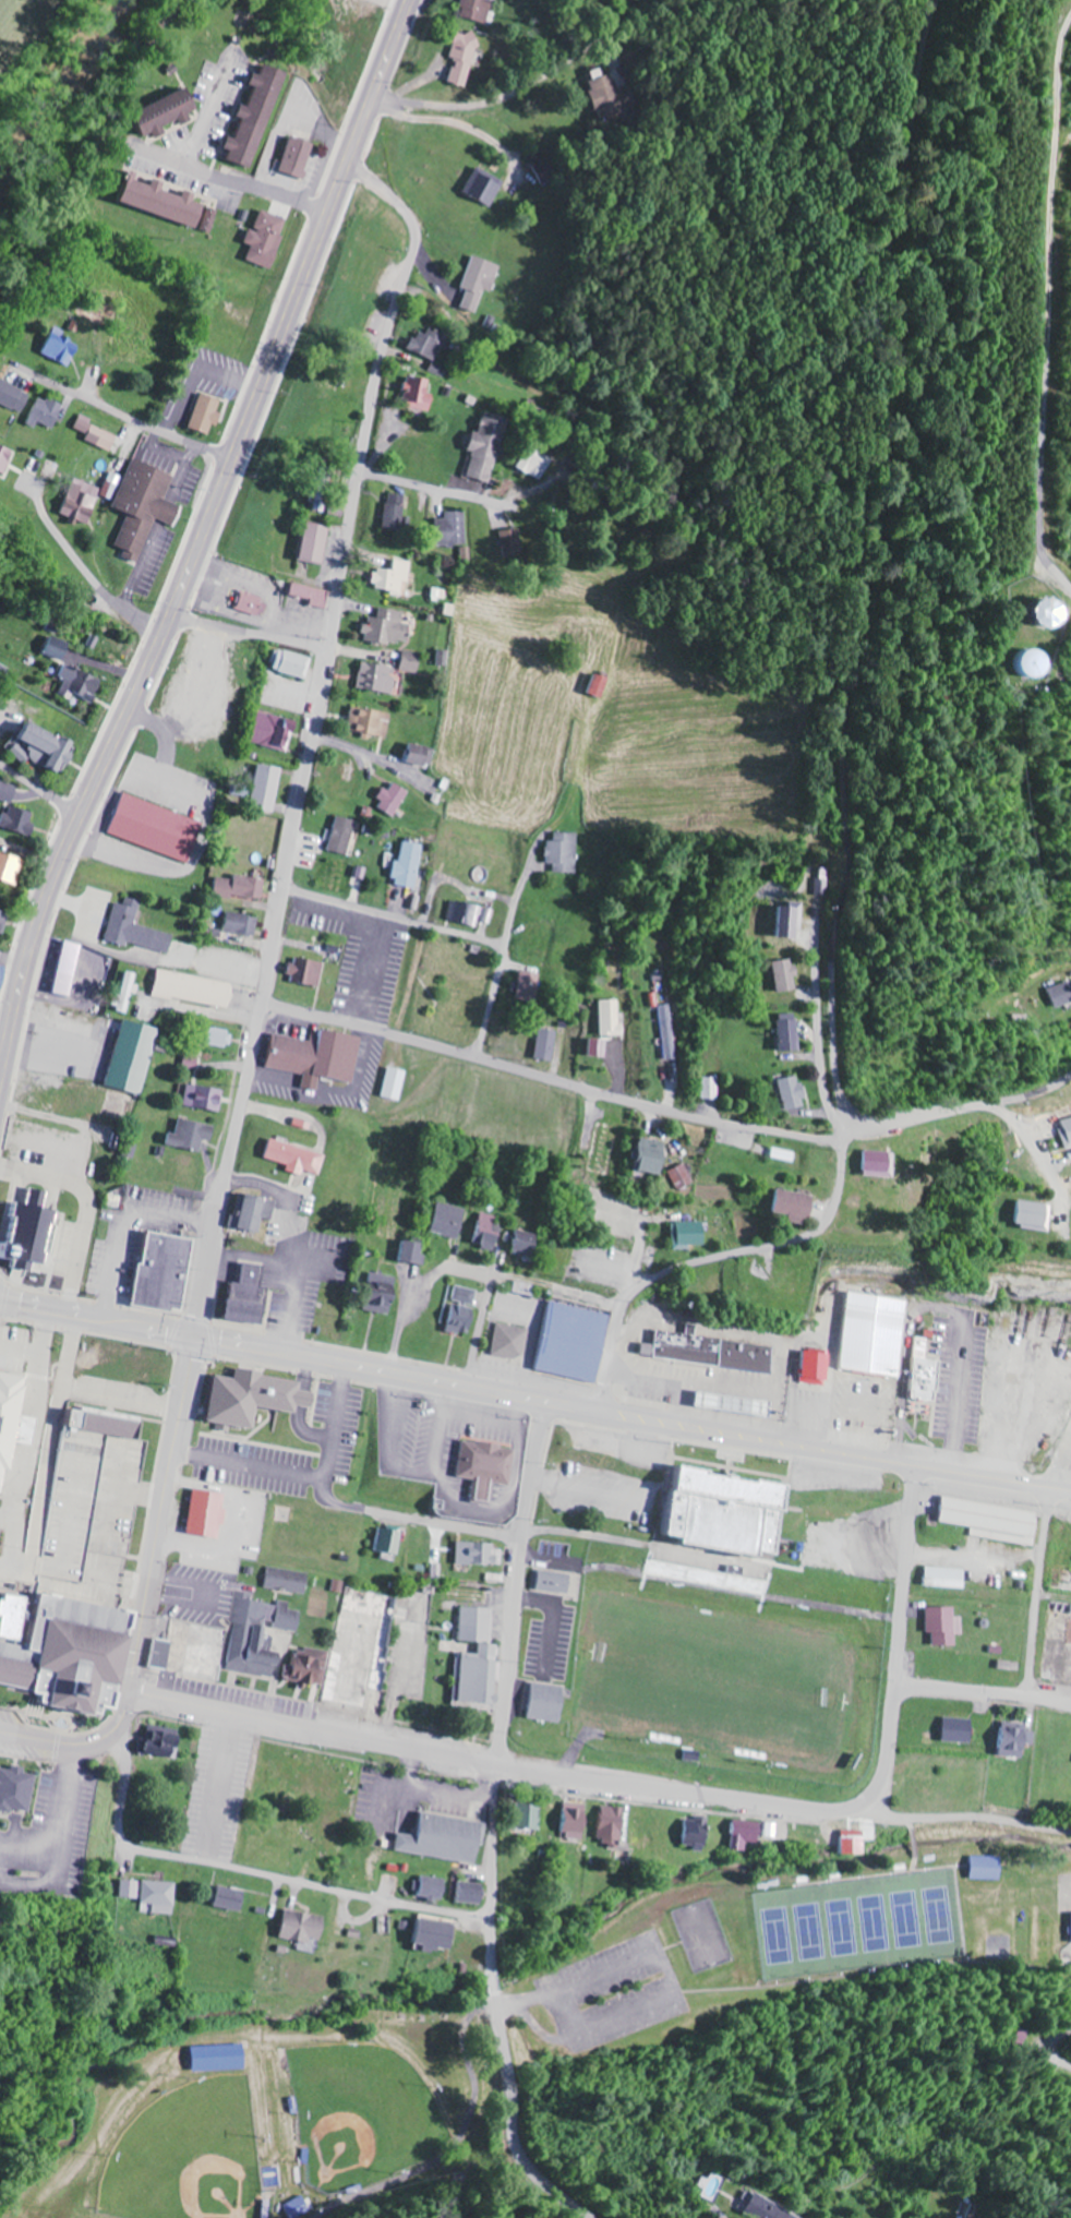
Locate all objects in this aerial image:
building: (479, 10)
building: (464, 59)
building: (604, 92)
river: (63, 93)
road: (517, 93)
road: (208, 110)
building: (169, 115)
building: (260, 118)
building: (300, 158)
road: (231, 181)
building: (488, 190)
building: (168, 203)
building: (268, 239)
building: (481, 280)
road: (1048, 286)
road: (165, 347)
building: (63, 349)
building: (431, 351)
building: (420, 394)
building: (13, 396)
building: (47, 412)
building: (208, 413)
building: (100, 434)
building: (485, 447)
building: (5, 459)
road: (432, 489)
building: (84, 502)
building: (147, 506)
building: (396, 512)
building: (454, 529)
road: (201, 538)
building: (318, 542)
building: (510, 542)
road: (88, 573)
building: (396, 578)
building: (314, 595)
building: (255, 604)
building: (1060, 613)
building: (392, 627)
road: (248, 631)
building: (58, 649)
building: (412, 662)
building: (294, 663)
building: (1033, 663)
building: (79, 683)
building: (603, 685)
building: (372, 722)
road: (143, 730)
building: (276, 731)
road: (313, 733)
building: (46, 747)
building: (424, 755)
road: (849, 771)
road: (37, 786)
building: (268, 787)
building: (8, 792)
building: (395, 800)
building: (155, 806)
building: (19, 820)
building: (344, 836)
building: (564, 852)
building: (409, 865)
building: (12, 867)
building: (338, 876)
road: (454, 884)
building: (242, 887)
building: (470, 914)
road: (394, 916)
building: (4, 921)
building: (793, 921)
building: (243, 923)
building: (137, 928)
road: (500, 956)
building: (71, 969)
building: (310, 971)
building: (786, 975)
building: (3, 979)
road: (409, 980)
building: (527, 986)
building: (197, 990)
building: (1062, 996)
building: (612, 1019)
road: (371, 1029)
building: (669, 1032)
building: (790, 1032)
road: (245, 1034)
building: (224, 1038)
road: (820, 1042)
building: (546, 1044)
building: (599, 1048)
building: (320, 1056)
building: (134, 1057)
building: (397, 1083)
building: (710, 1089)
building: (793, 1093)
building: (206, 1098)
road: (773, 1124)
building: (1066, 1128)
building: (193, 1135)
building: (652, 1156)
building: (297, 1158)
building: (877, 1162)
building: (683, 1178)
building: (796, 1207)
building: (253, 1214)
building: (1035, 1214)
building: (449, 1221)
building: (488, 1232)
building: (29, 1234)
building: (691, 1234)
building: (525, 1244)
building: (414, 1252)
building: (167, 1273)
building: (382, 1293)
building: (465, 1295)
building: (251, 1296)
road: (479, 1316)
road: (672, 1320)
building: (885, 1334)
building: (510, 1342)
building: (576, 1343)
building: (715, 1352)
building: (823, 1368)
building: (931, 1371)
road: (62, 1387)
road: (534, 1396)
building: (258, 1398)
building: (13, 1423)
road: (431, 1449)
building: (488, 1466)
parking lot: (607, 1492)
road: (287, 1495)
building: (732, 1512)
building: (209, 1514)
building: (995, 1521)
road: (158, 1533)
building: (392, 1542)
building: (481, 1555)
road: (904, 1574)
building: (707, 1576)
building: (947, 1578)
building: (289, 1581)
building: (558, 1582)
road: (1038, 1591)
road: (1055, 1595)
building: (17, 1618)
building: (947, 1626)
building: (258, 1635)
building: (77, 1654)
building: (164, 1655)
building: (481, 1657)
road: (514, 1658)
building: (310, 1667)
park: (719, 1678)
road: (983, 1692)
building: (551, 1703)
building: (960, 1731)
building: (1014, 1739)
road: (57, 1740)
building: (166, 1743)
road: (888, 1752)
road: (490, 1763)
building: (17, 1790)
building: (532, 1817)
road: (963, 1819)
building: (578, 1822)
building: (614, 1826)
parking lot: (55, 1832)
building: (747, 1834)
building: (448, 1839)
building: (857, 1843)
building: (990, 1869)
road: (250, 1871)
building: (436, 1889)
building: (473, 1894)
building: (154, 1896)
building: (234, 1899)
park: (857, 1925)
building: (306, 1930)
park: (701, 1934)
building: (440, 1937)
park: (801, 1946)
road: (492, 1950)
road: (494, 1985)
parking lot: (609, 1993)
road: (1052, 2043)
building: (225, 2059)
park: (359, 2112)
park: (284, 2118)
road: (507, 2119)
park: (188, 2157)
building: (765, 2210)

